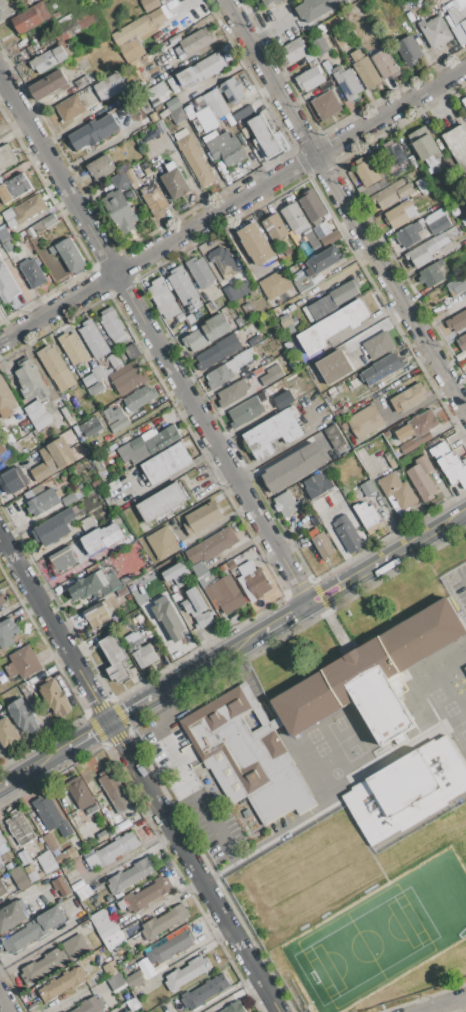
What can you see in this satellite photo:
building: (401, 0)
building: (433, 0)
building: (270, 2)
building: (461, 3)
building: (150, 4)
building: (317, 8)
building: (4, 10)
building: (457, 14)
building: (33, 17)
building: (156, 18)
building: (64, 19)
building: (464, 24)
building: (77, 27)
road: (270, 28)
building: (321, 29)
building: (131, 30)
building: (435, 31)
building: (194, 42)
building: (320, 46)
building: (70, 50)
building: (295, 50)
building: (409, 50)
building: (60, 53)
building: (149, 56)
building: (311, 56)
building: (44, 61)
building: (385, 64)
building: (209, 66)
building: (365, 69)
building: (143, 72)
building: (186, 76)
building: (310, 79)
building: (83, 82)
building: (346, 82)
building: (50, 85)
building: (326, 85)
building: (110, 86)
building: (232, 89)
building: (156, 91)
building: (198, 101)
building: (464, 101)
building: (156, 102)
building: (215, 103)
building: (327, 105)
building: (71, 108)
building: (164, 113)
building: (243, 113)
building: (178, 116)
building: (153, 117)
building: (206, 118)
road: (12, 122)
building: (161, 127)
building: (95, 132)
building: (265, 135)
building: (211, 137)
building: (458, 144)
building: (425, 148)
building: (226, 149)
building: (395, 156)
building: (7, 158)
building: (194, 158)
building: (137, 171)
building: (367, 172)
building: (148, 175)
building: (131, 176)
building: (119, 180)
building: (175, 181)
building: (423, 184)
building: (14, 188)
building: (392, 193)
building: (154, 199)
road: (232, 204)
road: (347, 204)
building: (312, 206)
building: (29, 208)
building: (119, 209)
building: (399, 216)
building: (49, 221)
building: (438, 221)
building: (299, 222)
building: (39, 226)
building: (275, 228)
building: (321, 229)
building: (30, 232)
building: (6, 235)
building: (409, 235)
building: (330, 238)
building: (255, 243)
building: (8, 246)
building: (427, 250)
building: (69, 255)
building: (224, 260)
building: (323, 260)
building: (200, 271)
building: (33, 273)
building: (431, 274)
building: (245, 282)
building: (302, 283)
building: (275, 284)
building: (456, 284)
building: (7, 285)
building: (184, 288)
building: (247, 288)
building: (213, 289)
building: (229, 292)
building: (252, 292)
building: (346, 293)
building: (164, 299)
building: (328, 304)
building: (247, 306)
building: (211, 307)
building: (276, 311)
road: (443, 316)
building: (181, 317)
building: (191, 319)
road: (371, 319)
building: (285, 320)
building: (457, 321)
building: (111, 324)
building: (332, 326)
building: (209, 333)
road: (154, 338)
building: (94, 339)
building: (254, 340)
building: (462, 342)
building: (229, 345)
building: (288, 345)
building: (379, 345)
building: (73, 348)
building: (132, 351)
building: (209, 358)
building: (240, 360)
building: (115, 361)
building: (334, 366)
building: (57, 368)
building: (249, 368)
building: (381, 368)
building: (97, 373)
building: (272, 373)
building: (219, 376)
building: (127, 379)
building: (31, 381)
building: (97, 387)
building: (232, 392)
building: (139, 398)
building: (408, 398)
building: (284, 399)
building: (6, 400)
building: (60, 403)
building: (269, 403)
building: (245, 412)
building: (65, 413)
building: (112, 414)
building: (37, 415)
building: (70, 421)
building: (365, 421)
building: (119, 424)
building: (91, 427)
building: (417, 430)
building: (185, 433)
building: (273, 433)
building: (386, 434)
building: (335, 436)
building: (151, 441)
building: (188, 444)
building: (15, 449)
building: (440, 451)
building: (2, 453)
building: (6, 457)
building: (53, 459)
building: (390, 460)
building: (0, 461)
building: (448, 461)
building: (166, 463)
building: (294, 467)
building: (192, 473)
building: (457, 474)
building: (422, 477)
road: (164, 479)
building: (13, 480)
building: (113, 485)
building: (317, 485)
building: (368, 488)
building: (398, 489)
building: (70, 499)
building: (108, 499)
building: (44, 501)
building: (161, 502)
building: (286, 504)
building: (367, 515)
building: (202, 518)
road: (25, 523)
building: (53, 527)
building: (347, 534)
building: (101, 538)
building: (163, 543)
building: (321, 543)
building: (215, 544)
building: (63, 559)
building: (191, 560)
building: (176, 573)
building: (253, 581)
building: (94, 585)
building: (122, 591)
building: (225, 593)
building: (128, 597)
building: (175, 597)
building: (2, 599)
building: (194, 601)
building: (98, 615)
building: (208, 617)
building: (168, 618)
building: (200, 621)
building: (8, 632)
road: (233, 650)
building: (141, 653)
building: (115, 658)
building: (23, 663)
building: (465, 667)
building: (374, 676)
building: (55, 697)
building: (24, 716)
traffic signals: (112, 723)
building: (7, 733)
building: (246, 755)
road: (7, 766)
road: (161, 769)
road: (140, 771)
building: (111, 785)
building: (407, 790)
building: (82, 795)
road: (207, 806)
building: (51, 816)
building: (20, 827)
building: (116, 829)
building: (102, 836)
building: (1, 839)
road: (269, 840)
building: (50, 842)
building: (112, 851)
building: (66, 857)
building: (24, 858)
building: (47, 862)
building: (0, 863)
building: (29, 869)
building: (34, 876)
building: (130, 876)
building: (19, 877)
building: (61, 886)
building: (2, 888)
building: (144, 895)
building: (13, 915)
building: (78, 918)
building: (99, 919)
building: (164, 921)
building: (34, 929)
building: (107, 930)
building: (112, 941)
building: (76, 947)
building: (171, 947)
building: (43, 966)
building: (110, 968)
building: (187, 973)
building: (134, 980)
building: (117, 981)
building: (62, 983)
building: (209, 989)
road: (5, 1002)
building: (90, 1005)
road: (445, 1005)
building: (234, 1007)

